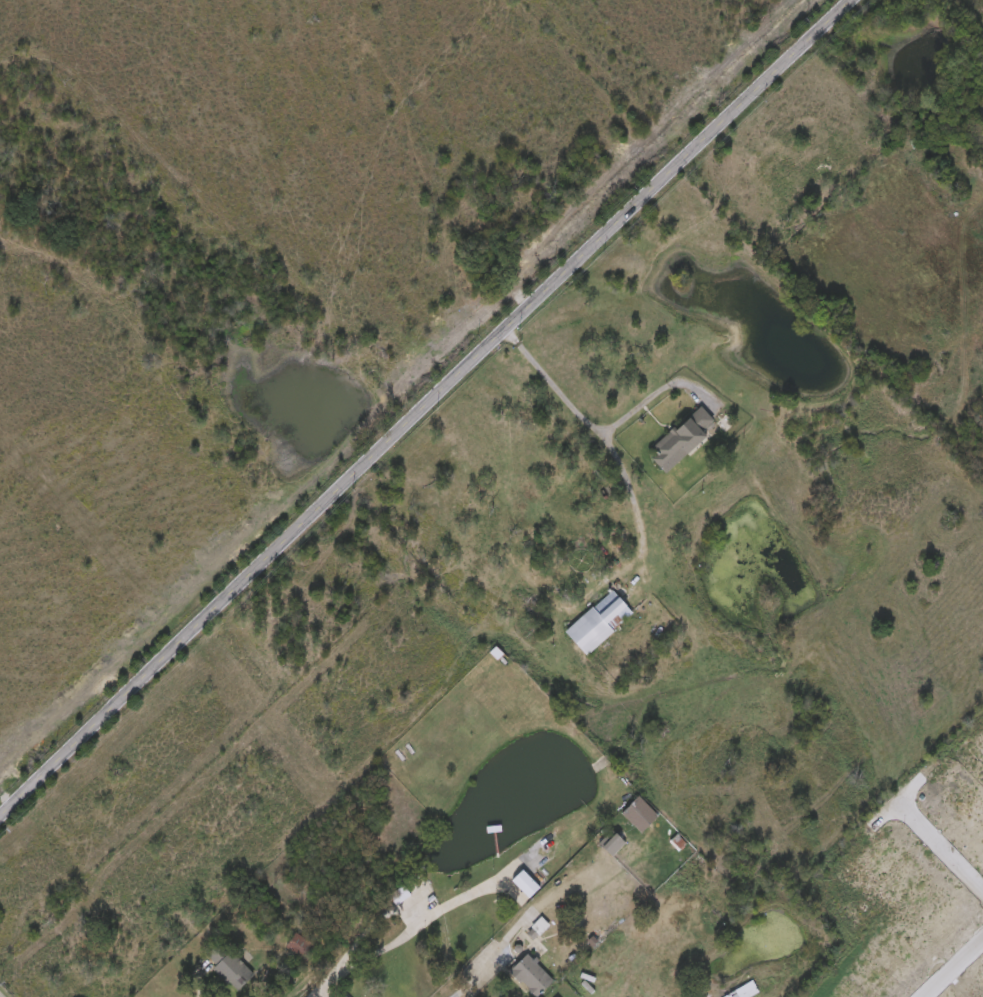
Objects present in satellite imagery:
road: (732, 144)
building: (842, 179)
road: (422, 407)
road: (614, 425)
road: (608, 435)
building: (681, 441)
building: (597, 625)
road: (942, 841)
building: (614, 846)
building: (521, 890)
road: (412, 928)
building: (228, 966)
road: (953, 969)
road: (469, 979)

